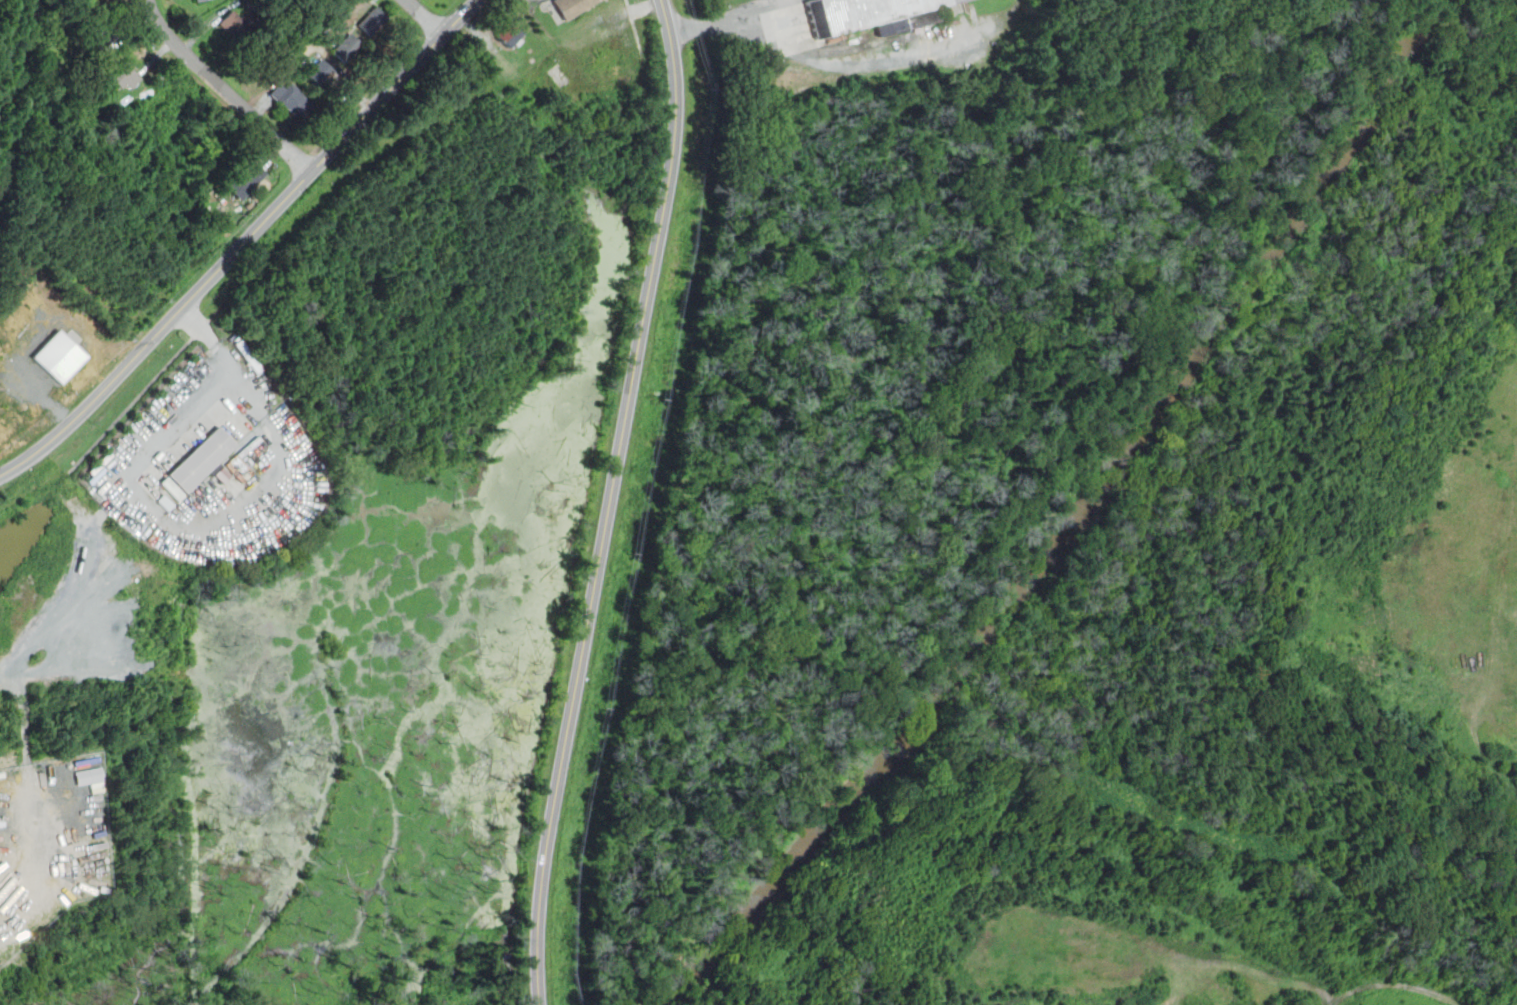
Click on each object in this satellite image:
building: (197, 0)
road: (505, 0)
building: (572, 6)
road: (784, 9)
building: (872, 15)
road: (425, 18)
building: (372, 19)
building: (234, 23)
building: (104, 31)
building: (509, 34)
road: (637, 37)
building: (346, 47)
road: (819, 58)
building: (320, 71)
building: (125, 75)
road: (223, 90)
building: (291, 98)
building: (246, 179)
road: (244, 243)
building: (59, 356)
building: (201, 460)
building: (171, 487)
building: (165, 501)
road: (610, 502)
road: (156, 516)
river: (1077, 520)
road: (64, 582)
road: (1377, 982)

